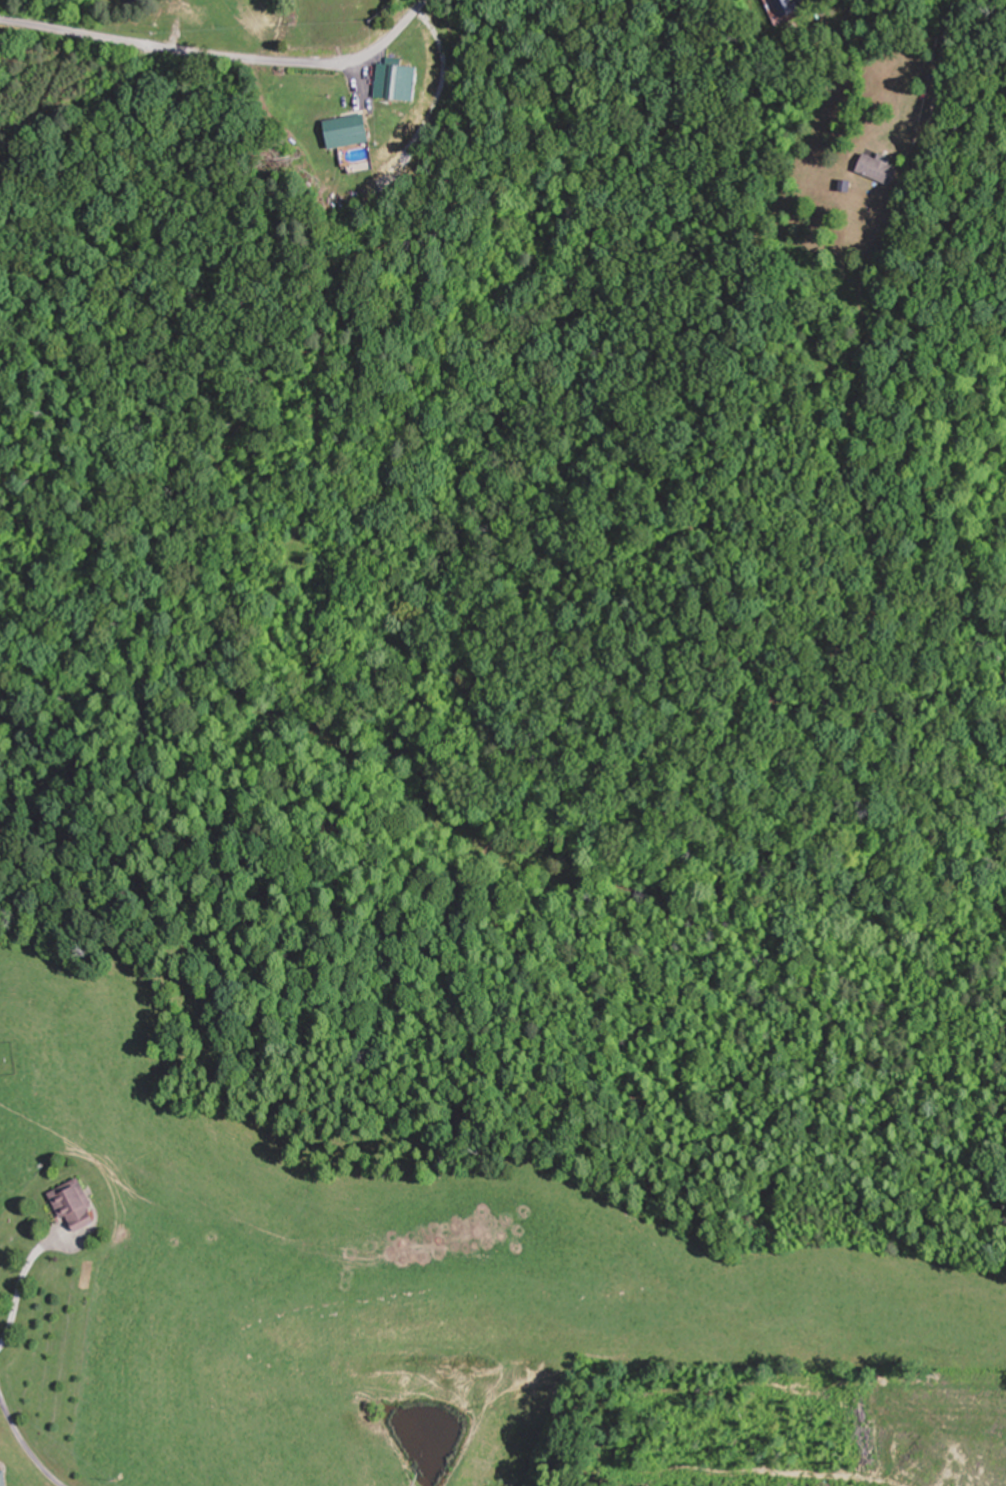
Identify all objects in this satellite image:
building: (783, 10)
building: (194, 13)
road: (224, 57)
building: (404, 81)
building: (354, 130)
building: (881, 170)
road: (737, 238)
building: (80, 1206)
road: (27, 1443)
building: (6, 1478)

